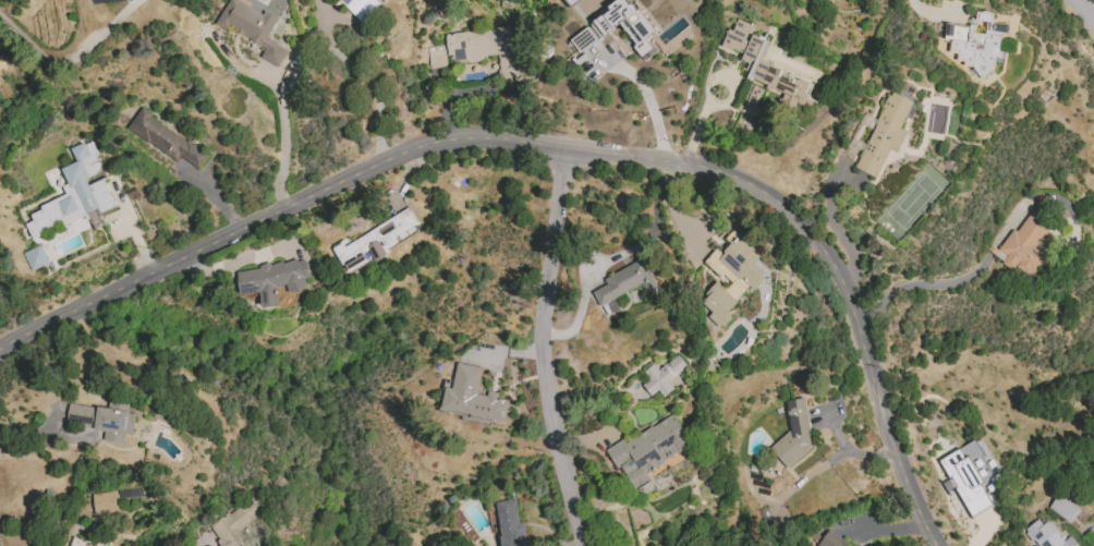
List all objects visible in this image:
building: (117, 0)
building: (572, 1)
building: (361, 8)
road: (932, 9)
road: (1085, 11)
building: (636, 27)
building: (254, 28)
building: (977, 40)
building: (484, 48)
road: (71, 59)
building: (762, 70)
road: (369, 75)
road: (706, 87)
road: (648, 104)
building: (885, 134)
road: (285, 137)
building: (165, 138)
road: (562, 147)
building: (68, 193)
road: (217, 201)
park: (914, 202)
road: (670, 206)
road: (836, 229)
building: (374, 243)
building: (1025, 246)
road: (616, 255)
building: (35, 257)
building: (730, 278)
building: (273, 279)
building: (625, 282)
road: (916, 284)
road: (545, 349)
building: (663, 376)
building: (472, 397)
building: (104, 420)
building: (797, 433)
road: (45, 434)
building: (648, 450)
road: (827, 462)
building: (972, 475)
building: (105, 502)
building: (1063, 508)
building: (236, 522)
building: (510, 524)
building: (1046, 535)
building: (832, 541)

